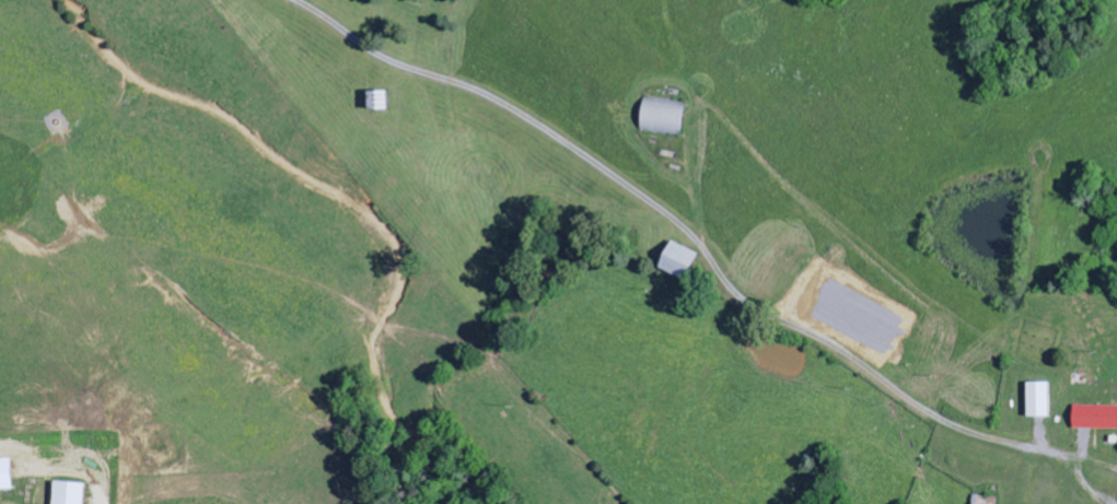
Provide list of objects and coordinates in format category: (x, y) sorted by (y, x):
building: (665, 117)
road: (572, 185)
building: (680, 262)
building: (1040, 401)
building: (1095, 418)
building: (72, 492)
building: (986, 500)

